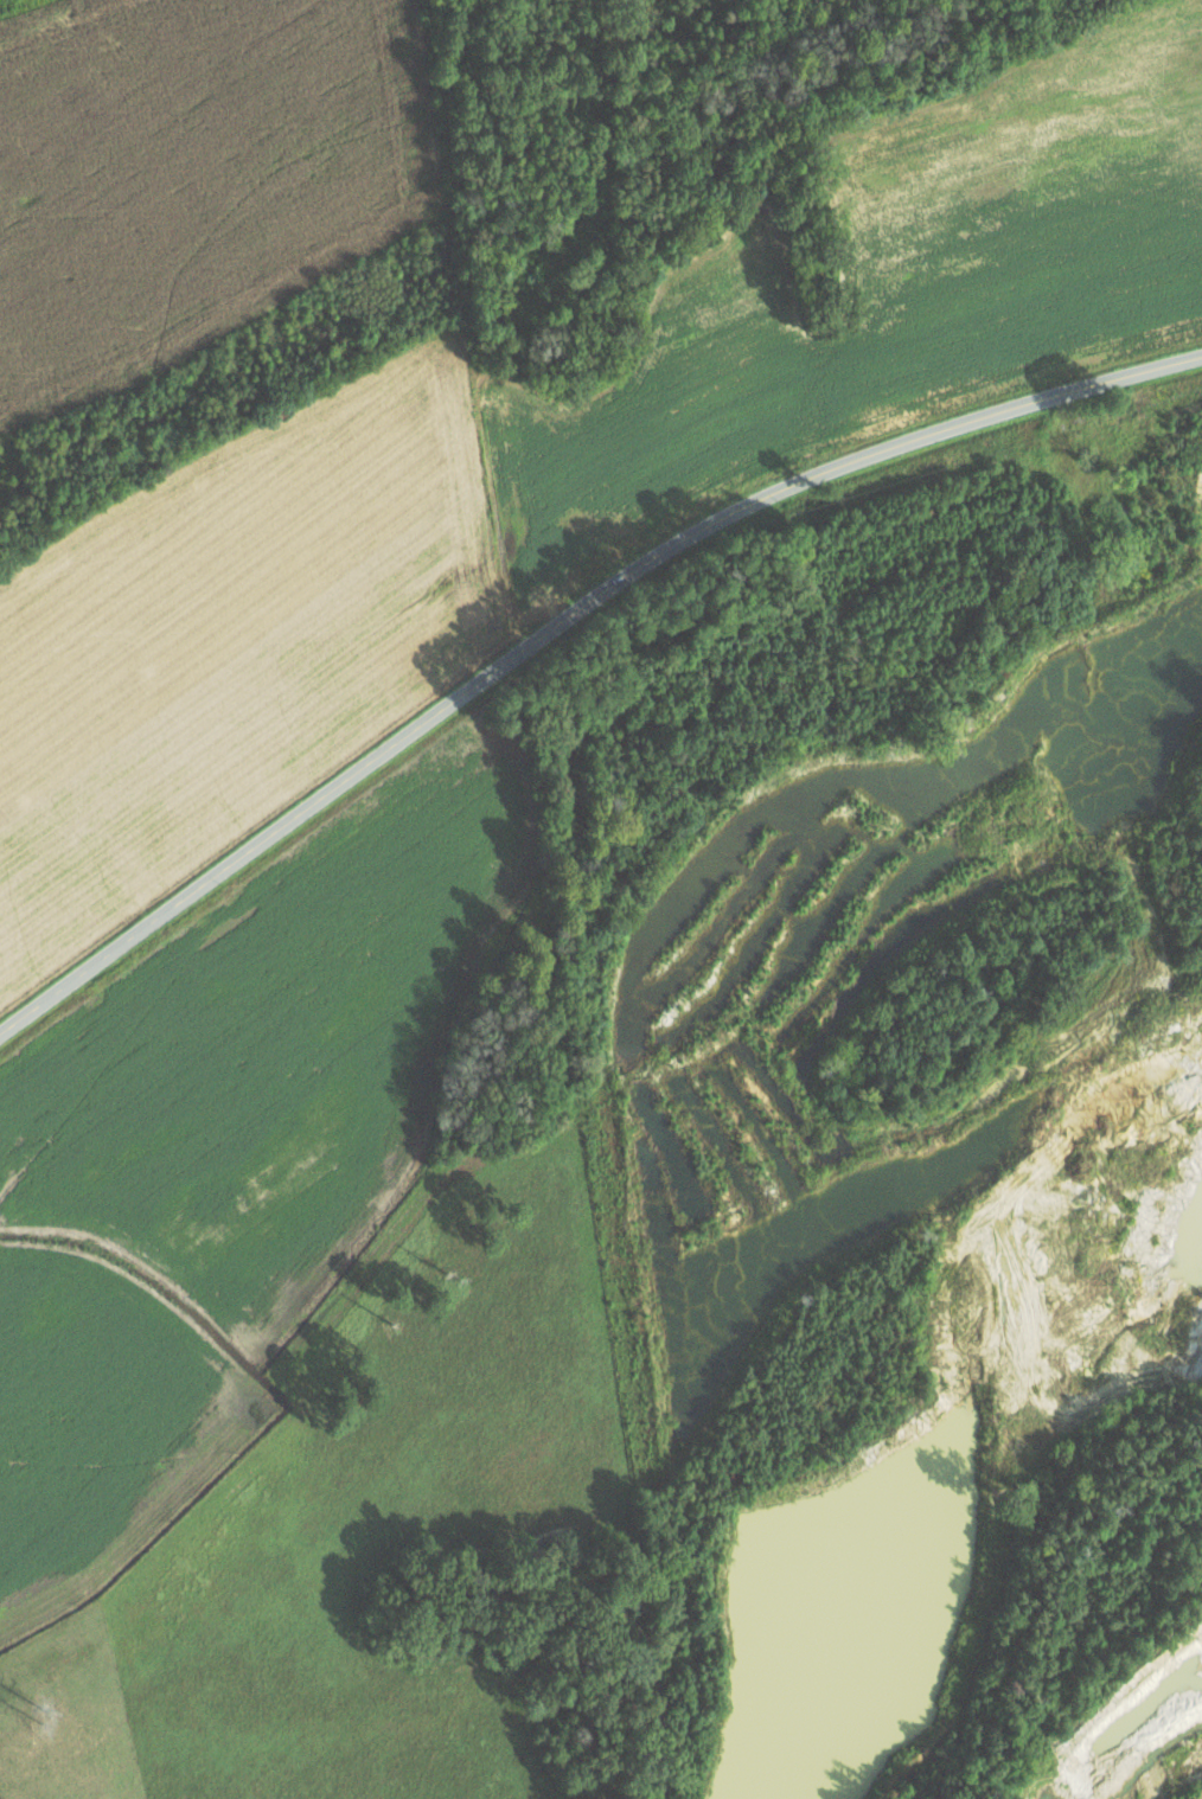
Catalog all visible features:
road: (560, 619)

